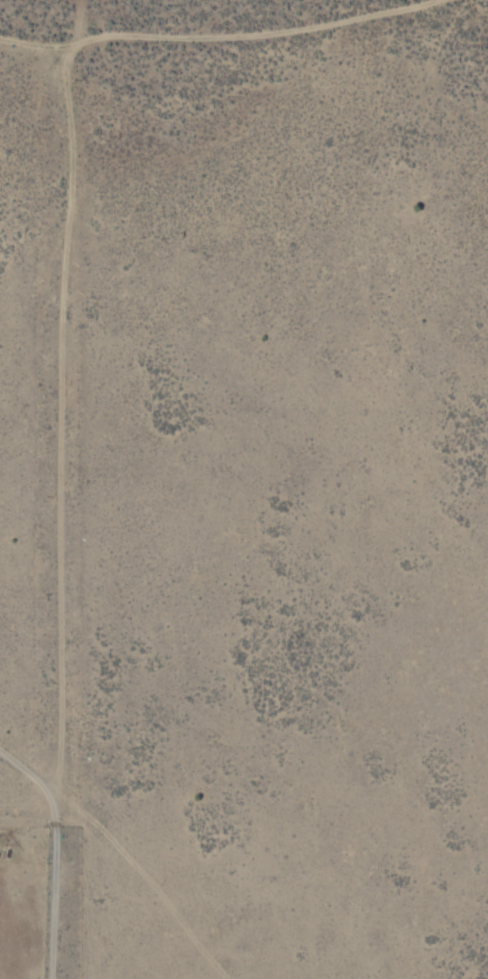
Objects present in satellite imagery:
road: (60, 331)
road: (31, 776)
crop: (26, 894)

